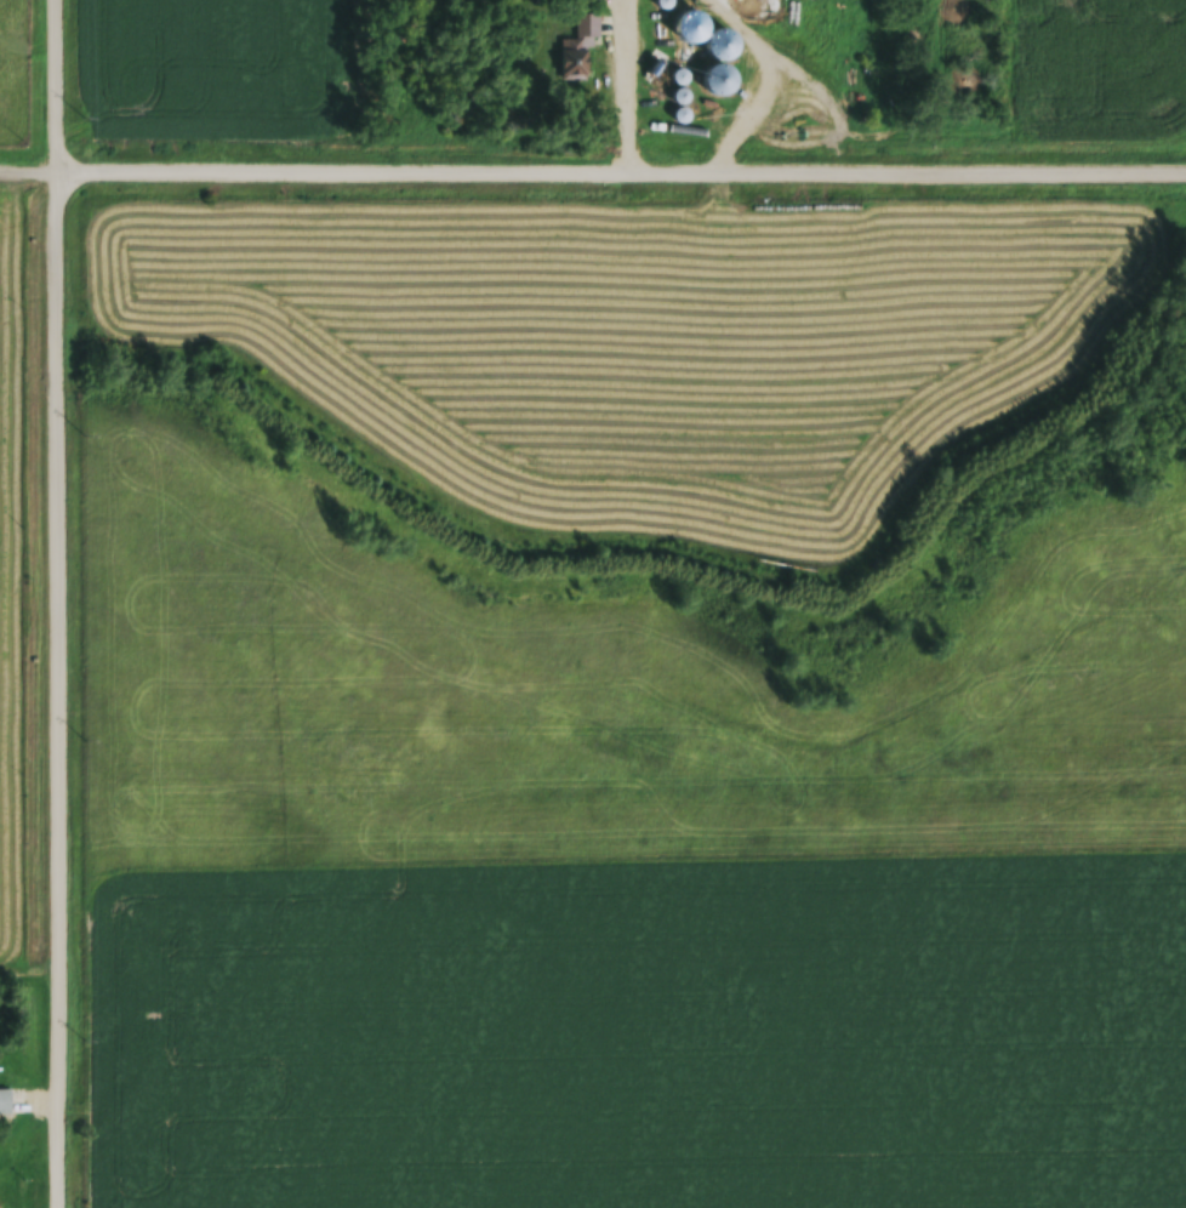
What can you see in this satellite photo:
building: (588, 28)
building: (723, 47)
road: (766, 76)
road: (58, 82)
building: (722, 82)
road: (632, 84)
road: (29, 165)
road: (621, 167)
road: (61, 686)

